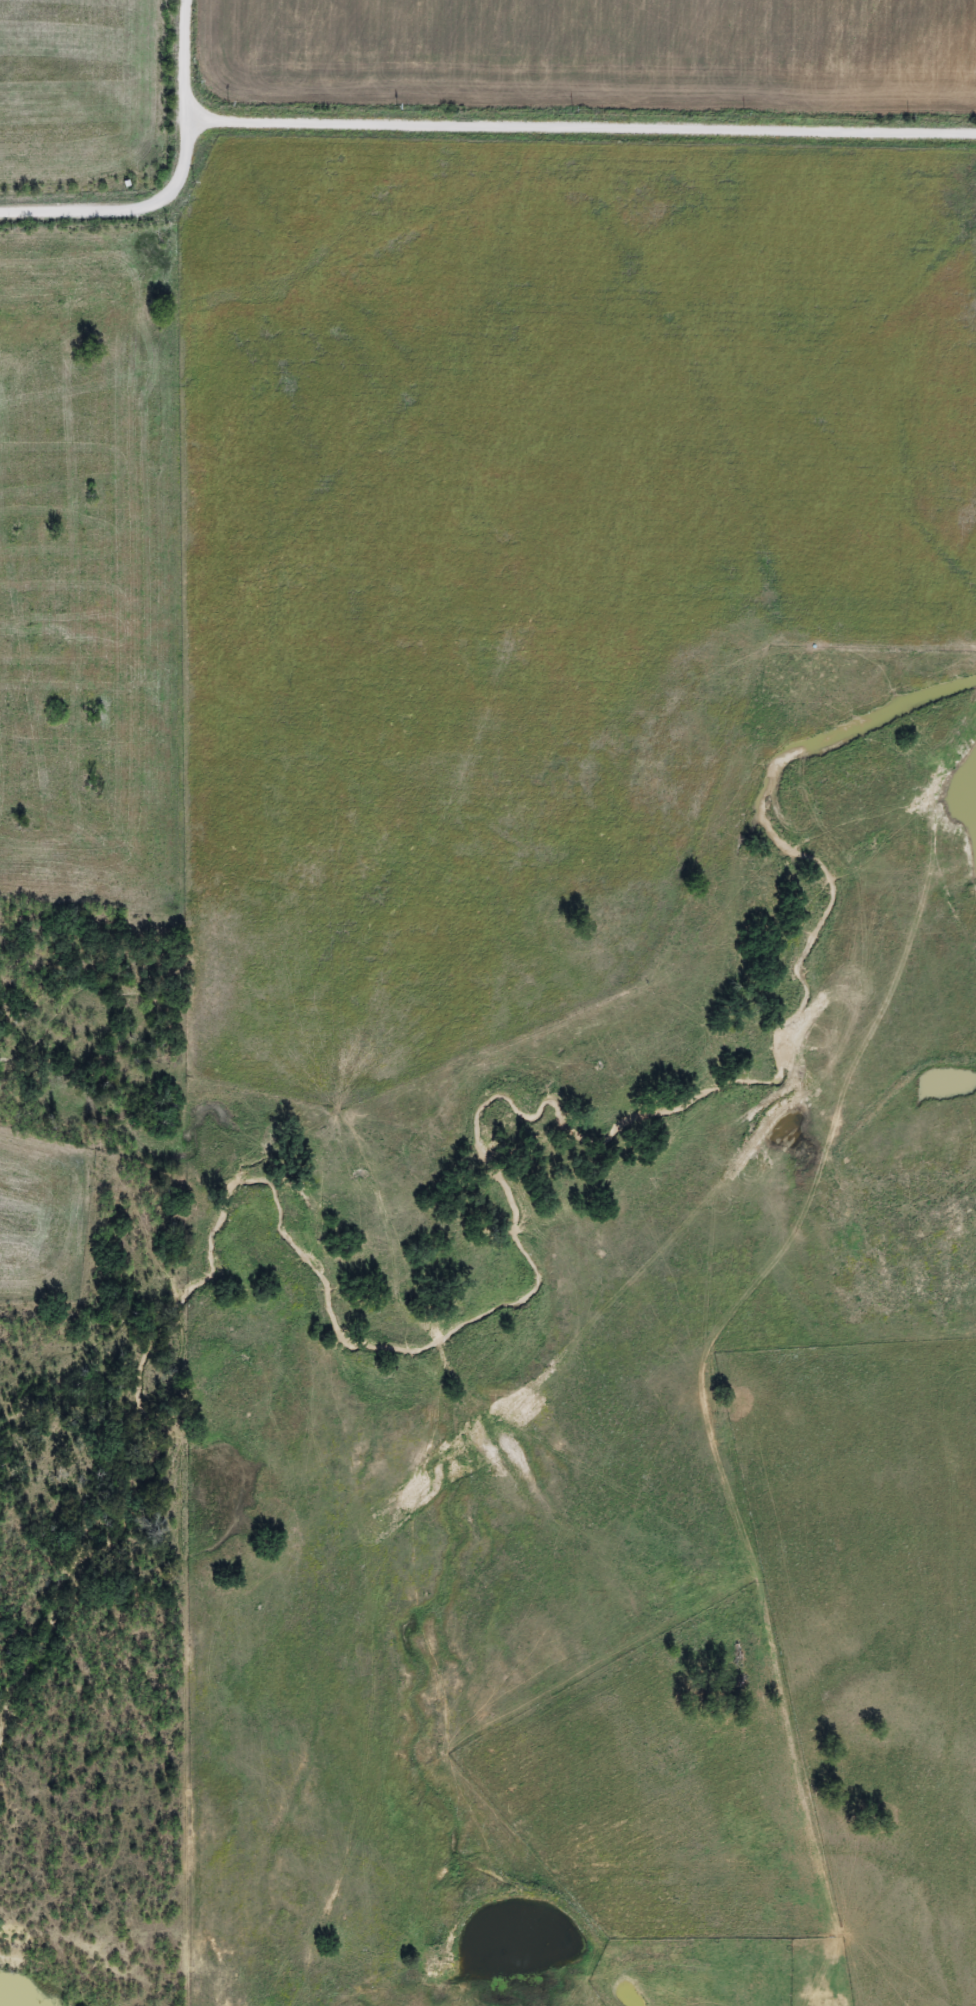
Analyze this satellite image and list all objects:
road: (582, 156)
road: (179, 188)

